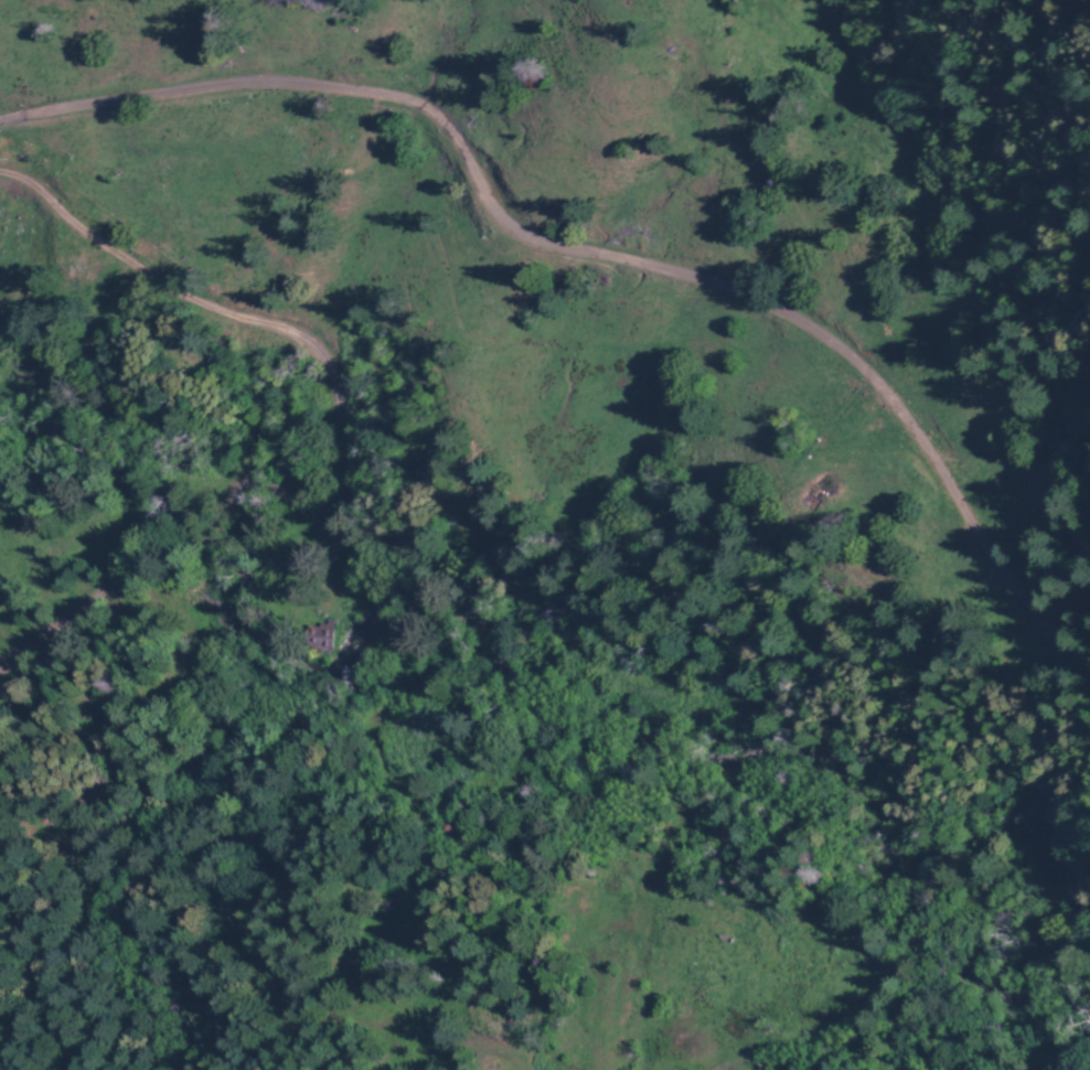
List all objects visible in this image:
road: (596, 258)
road: (629, 663)
road: (72, 983)
road: (444, 1037)
road: (612, 1060)

